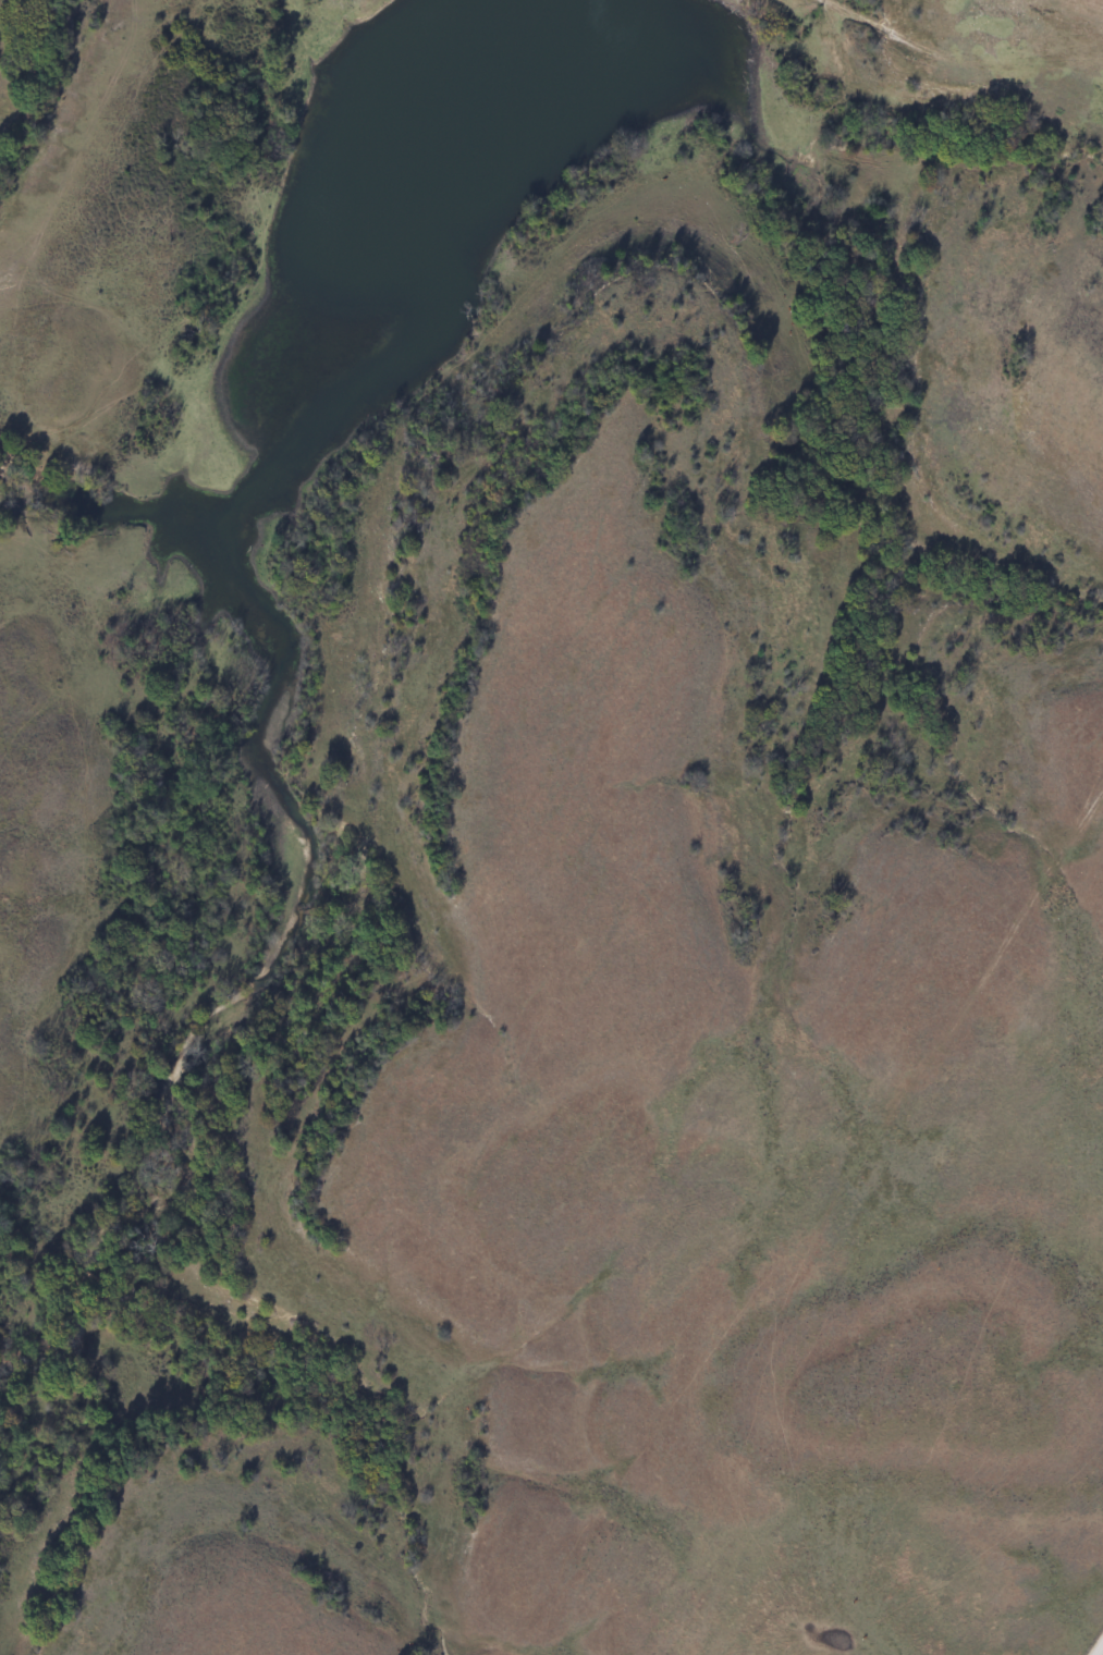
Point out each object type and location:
road: (1101, 1652)

